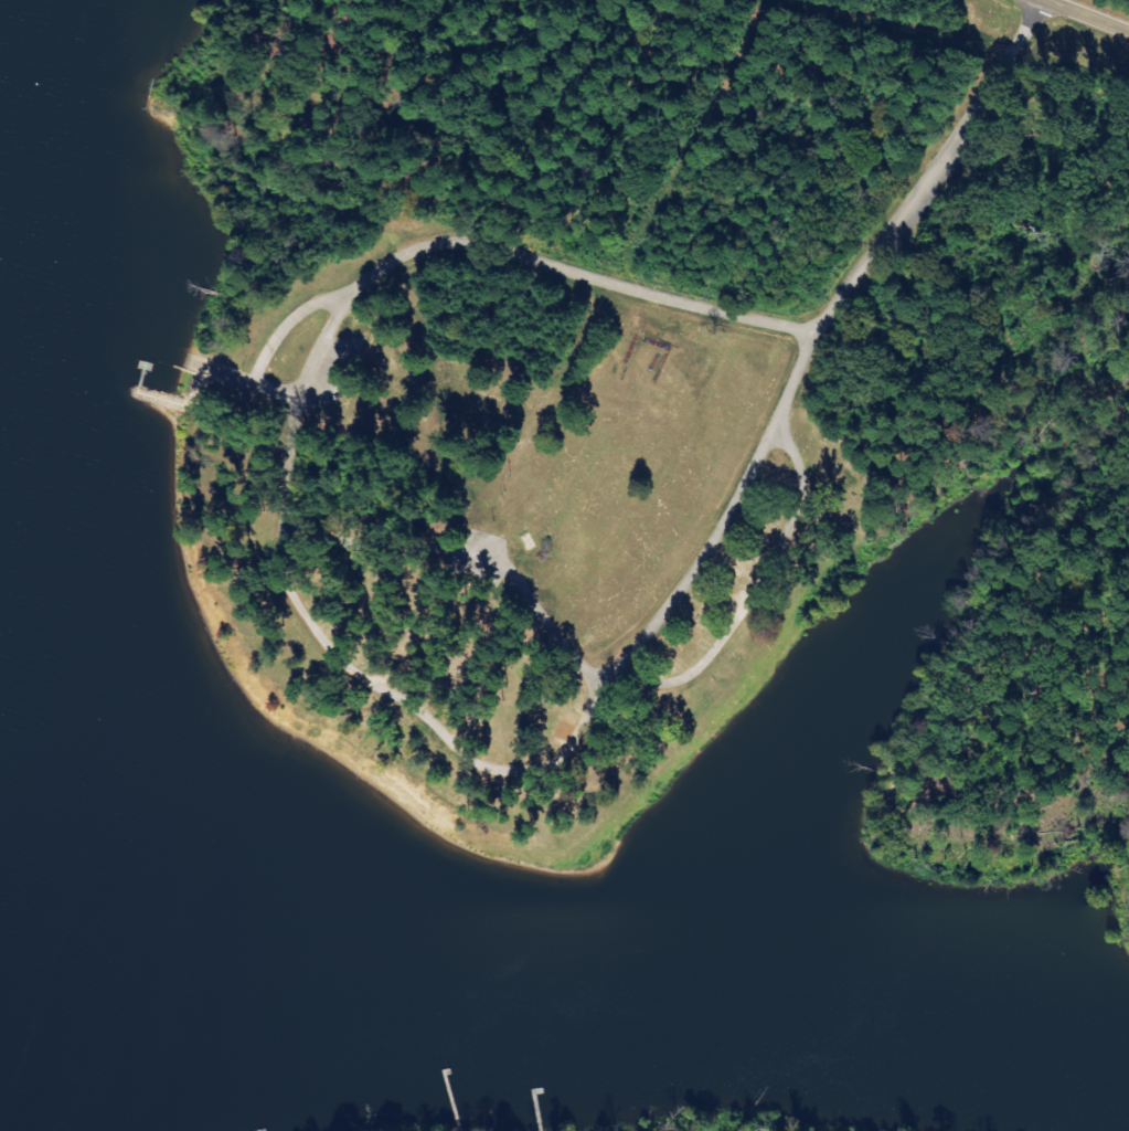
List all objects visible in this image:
road: (1087, 15)
road: (507, 247)
road: (317, 347)
park: (607, 349)
road: (966, 362)
road: (753, 591)
road: (661, 613)
road: (430, 727)

